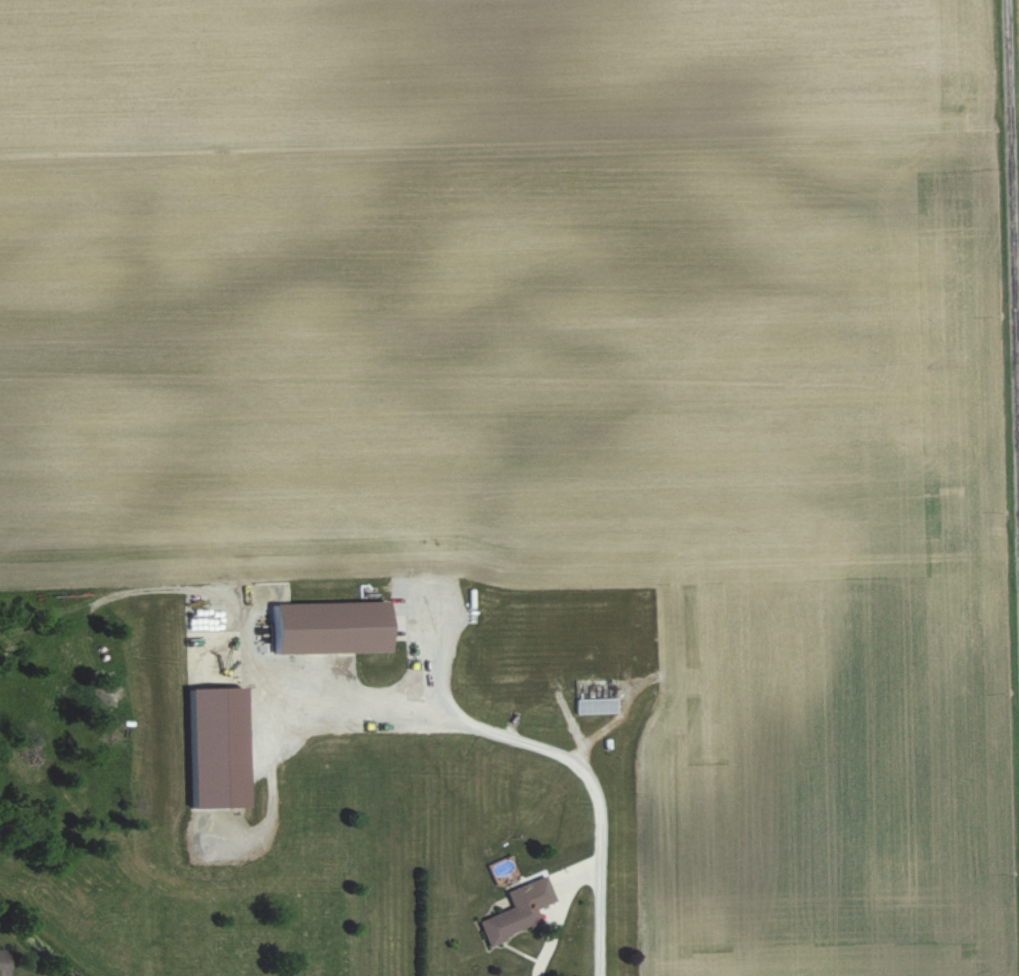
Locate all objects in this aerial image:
road: (1015, 135)
building: (326, 626)
building: (595, 705)
road: (583, 866)
building: (4, 961)

